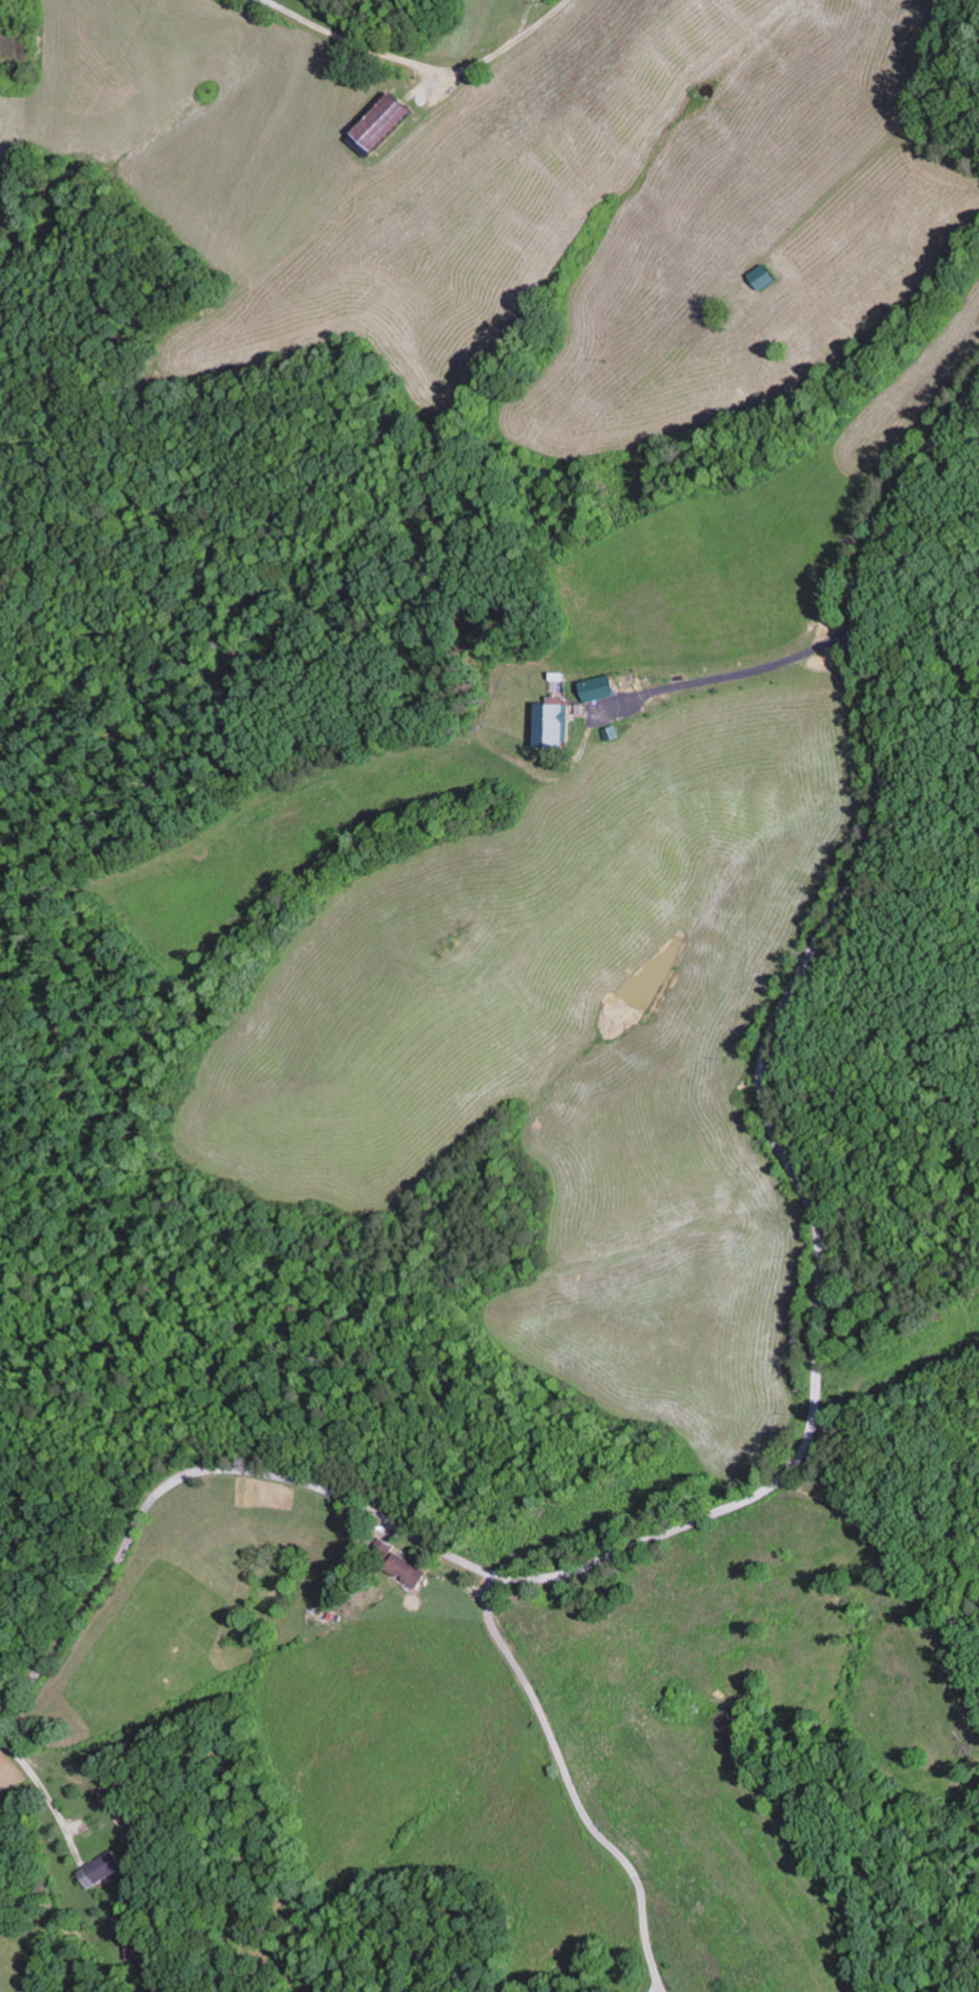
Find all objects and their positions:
road: (424, 66)
road: (917, 94)
building: (383, 122)
road: (737, 673)
road: (766, 1068)
road: (197, 1476)
building: (380, 1550)
building: (403, 1571)
road: (572, 1787)
road: (47, 1790)
building: (98, 1869)
road: (662, 1990)

